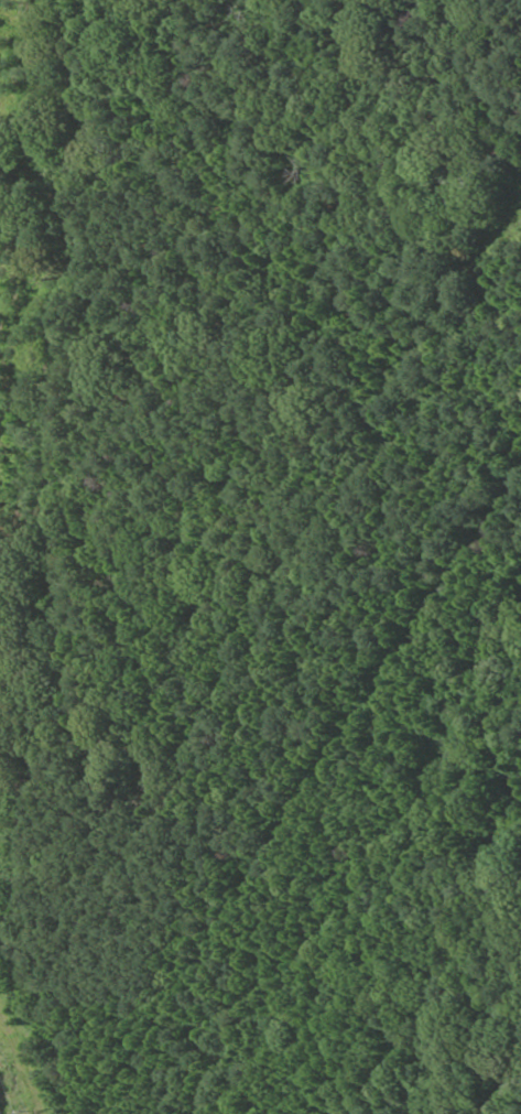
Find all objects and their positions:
power tower: (28, 1113)

